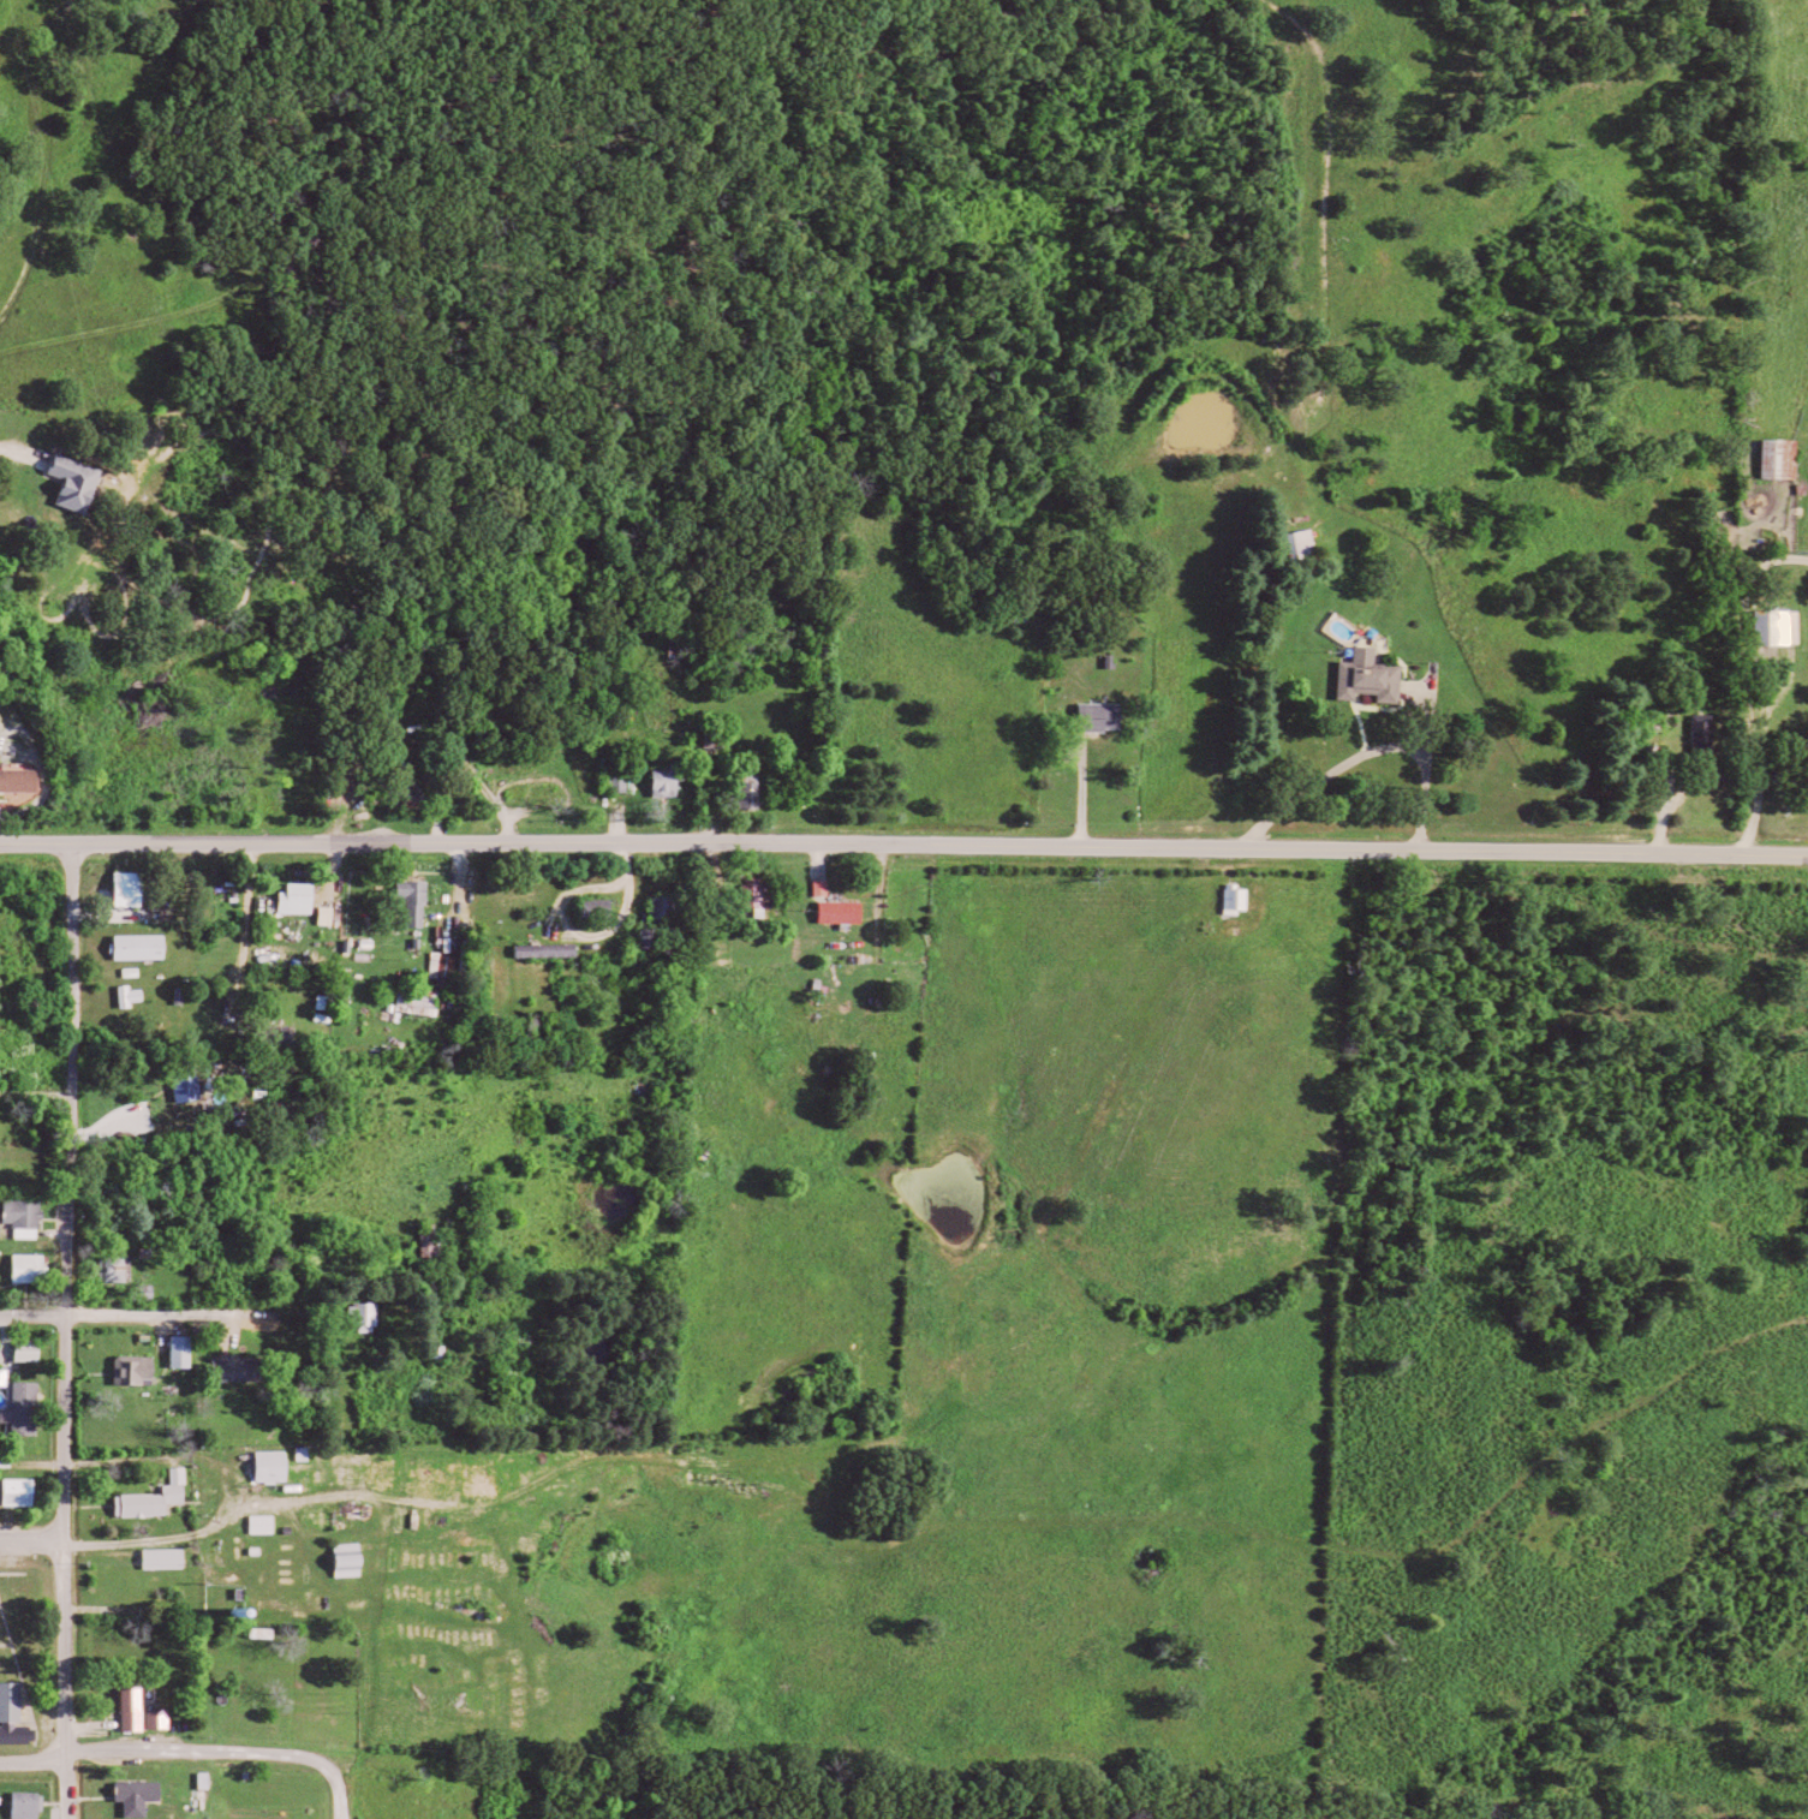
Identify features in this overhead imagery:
road: (30, 36)
building: (1785, 458)
building: (83, 482)
building: (1306, 543)
building: (1782, 627)
building: (1372, 676)
road: (1754, 694)
building: (1105, 716)
building: (1707, 735)
road: (1365, 759)
road: (431, 771)
building: (23, 780)
building: (622, 782)
building: (672, 782)
building: (756, 791)
road: (903, 852)
road: (626, 870)
building: (827, 888)
building: (135, 889)
building: (762, 894)
building: (304, 899)
building: (1240, 900)
building: (420, 901)
building: (669, 907)
building: (602, 908)
building: (847, 913)
road: (878, 923)
building: (654, 938)
road: (249, 940)
road: (590, 944)
building: (147, 947)
building: (553, 950)
building: (447, 967)
building: (424, 1001)
building: (330, 1002)
building: (284, 1036)
building: (193, 1089)
road: (40, 1096)
building: (30, 1217)
building: (2, 1231)
building: (36, 1268)
building: (119, 1269)
road: (426, 1310)
building: (371, 1316)
road: (114, 1318)
road: (70, 1329)
building: (34, 1352)
building: (187, 1352)
building: (243, 1368)
building: (139, 1370)
building: (29, 1409)
road: (132, 1459)
building: (279, 1467)
building: (25, 1492)
building: (160, 1498)
building: (269, 1523)
road: (175, 1538)
road: (34, 1539)
building: (171, 1559)
building: (138, 1707)
building: (163, 1717)
road: (222, 1752)
road: (35, 1760)
building: (144, 1795)
building: (32, 1805)
road: (344, 1811)

